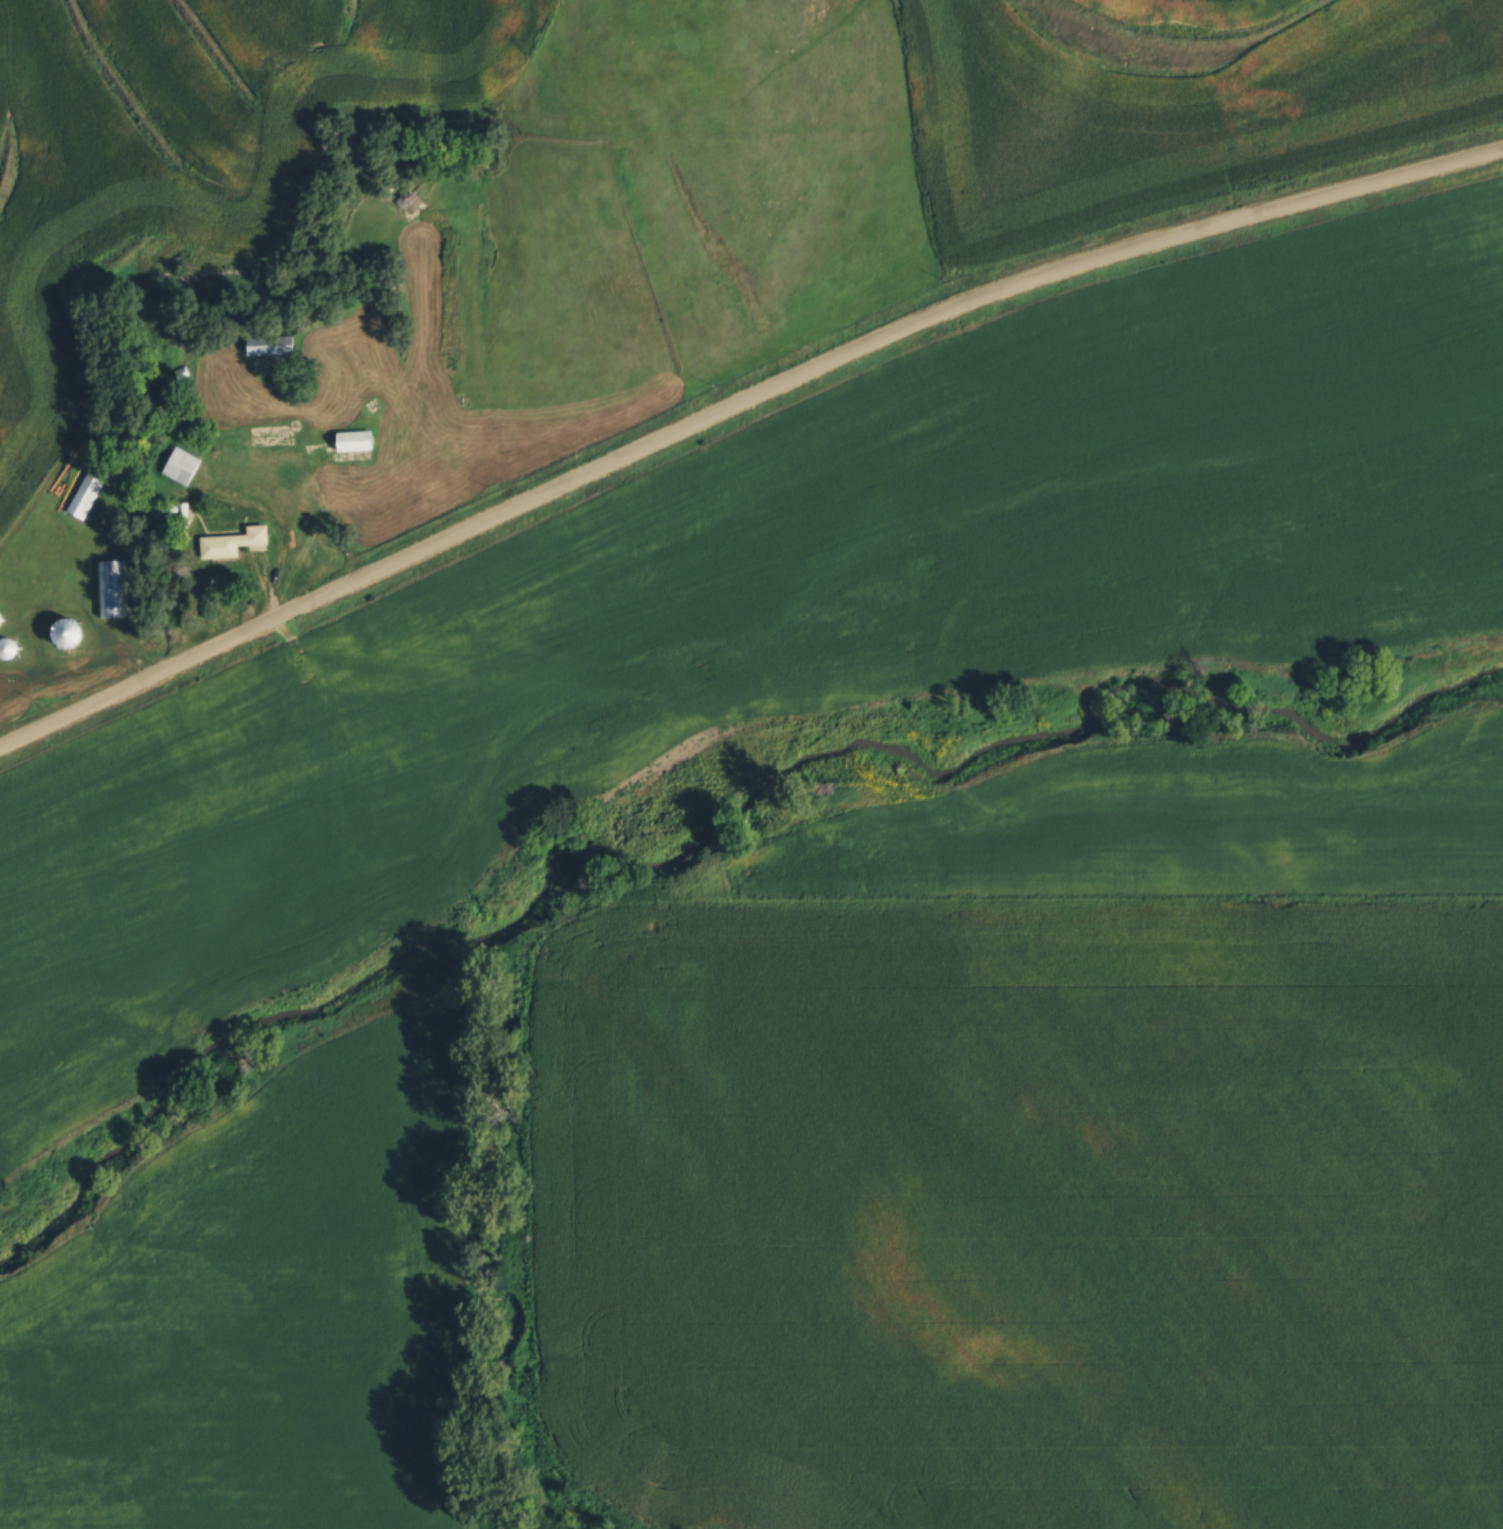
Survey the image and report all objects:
building: (265, 346)
building: (179, 372)
road: (736, 409)
building: (351, 437)
building: (178, 463)
building: (84, 490)
building: (229, 539)
building: (108, 585)
building: (63, 630)
building: (6, 645)

